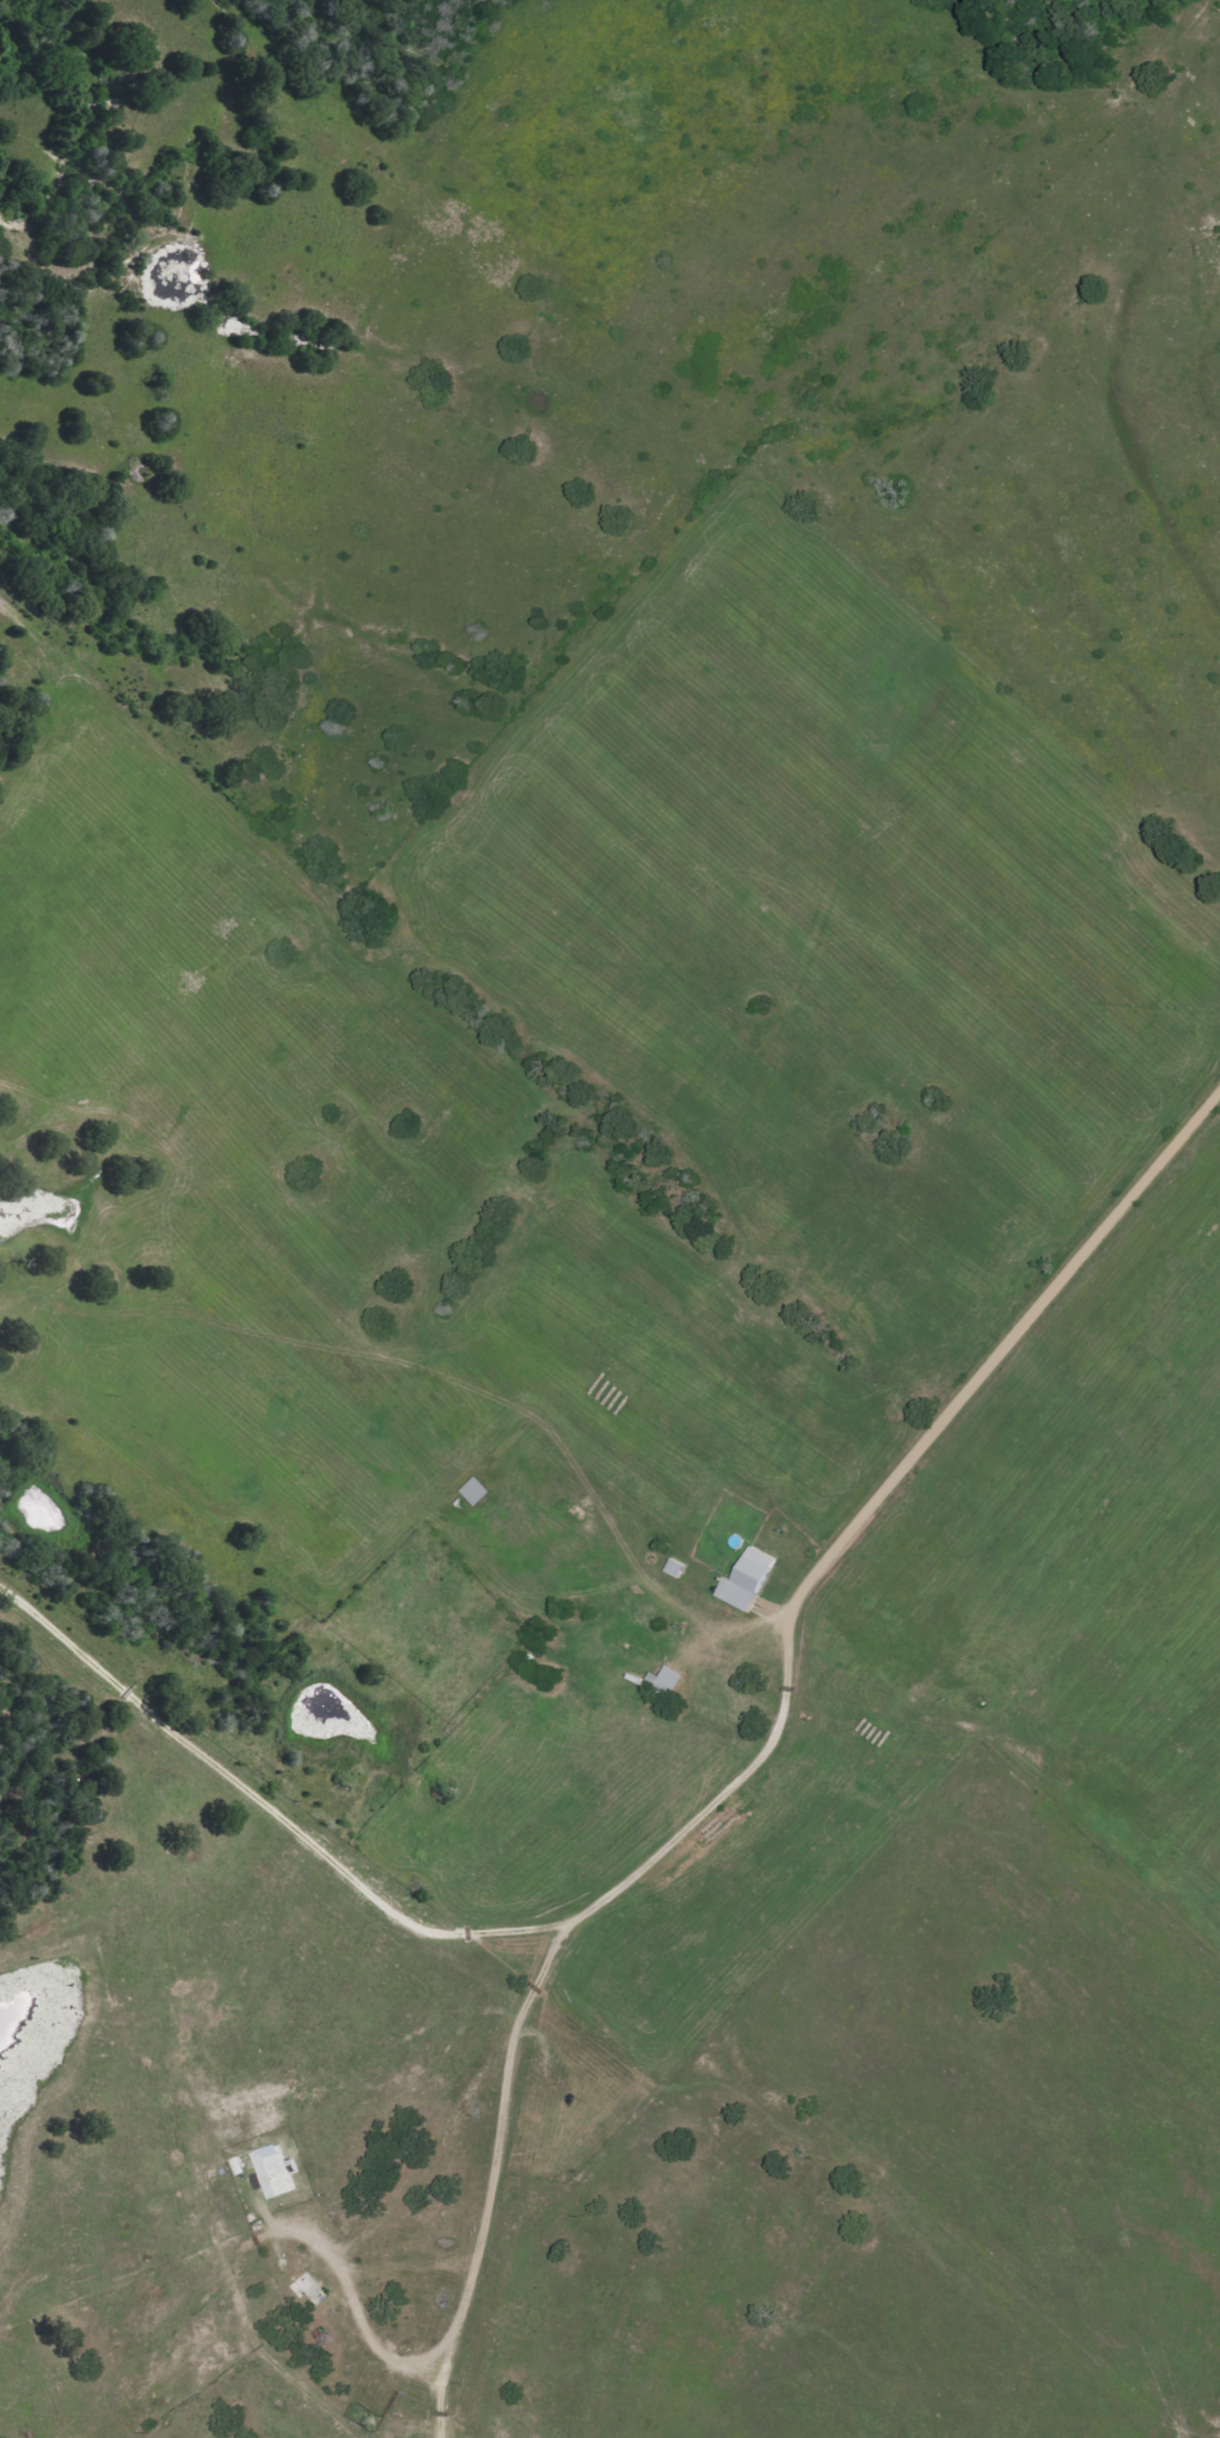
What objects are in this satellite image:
road: (911, 821)
road: (870, 1501)
building: (750, 1581)
road: (697, 1636)
road: (269, 1803)
building: (276, 2171)
road: (492, 2176)
road: (240, 2243)

